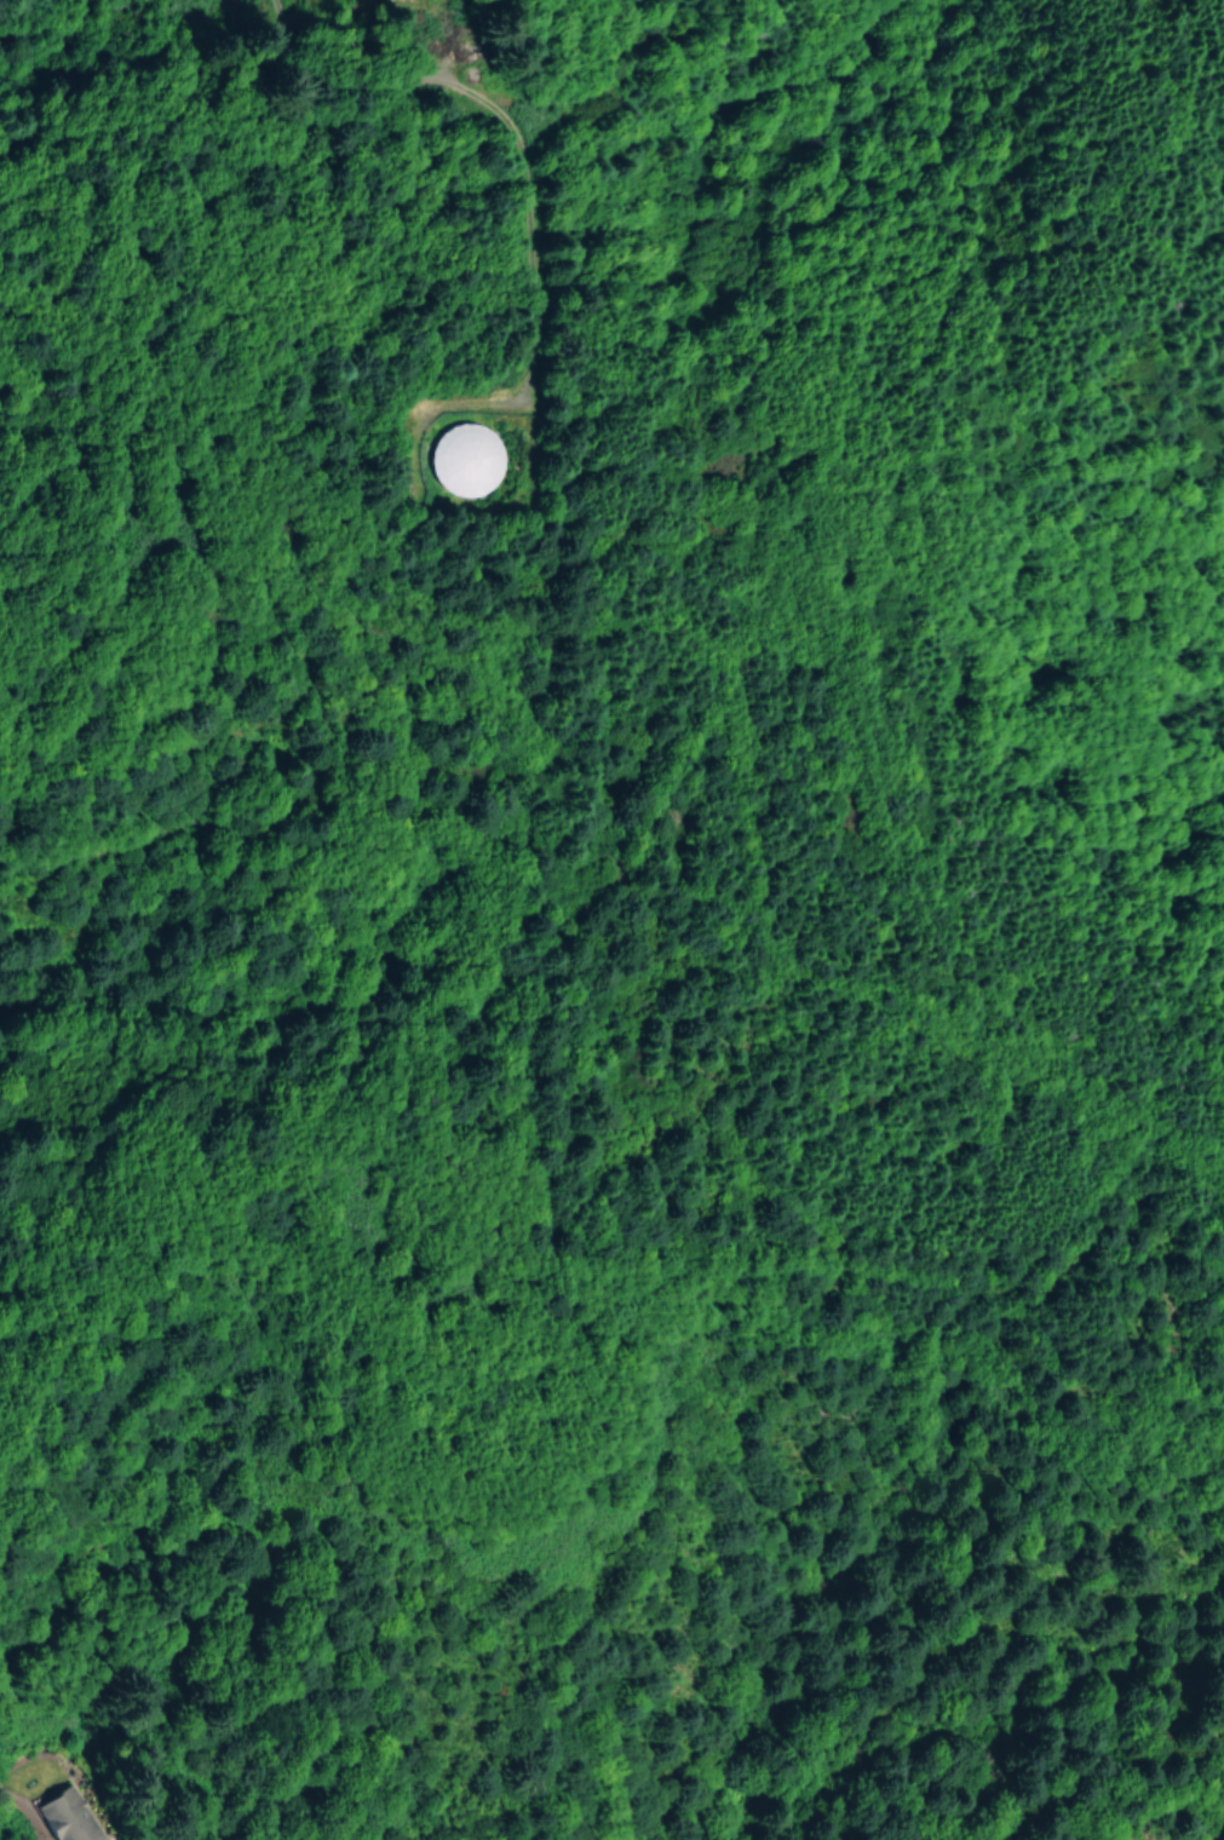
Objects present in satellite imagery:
building: (465, 456)
building: (63, 1816)

